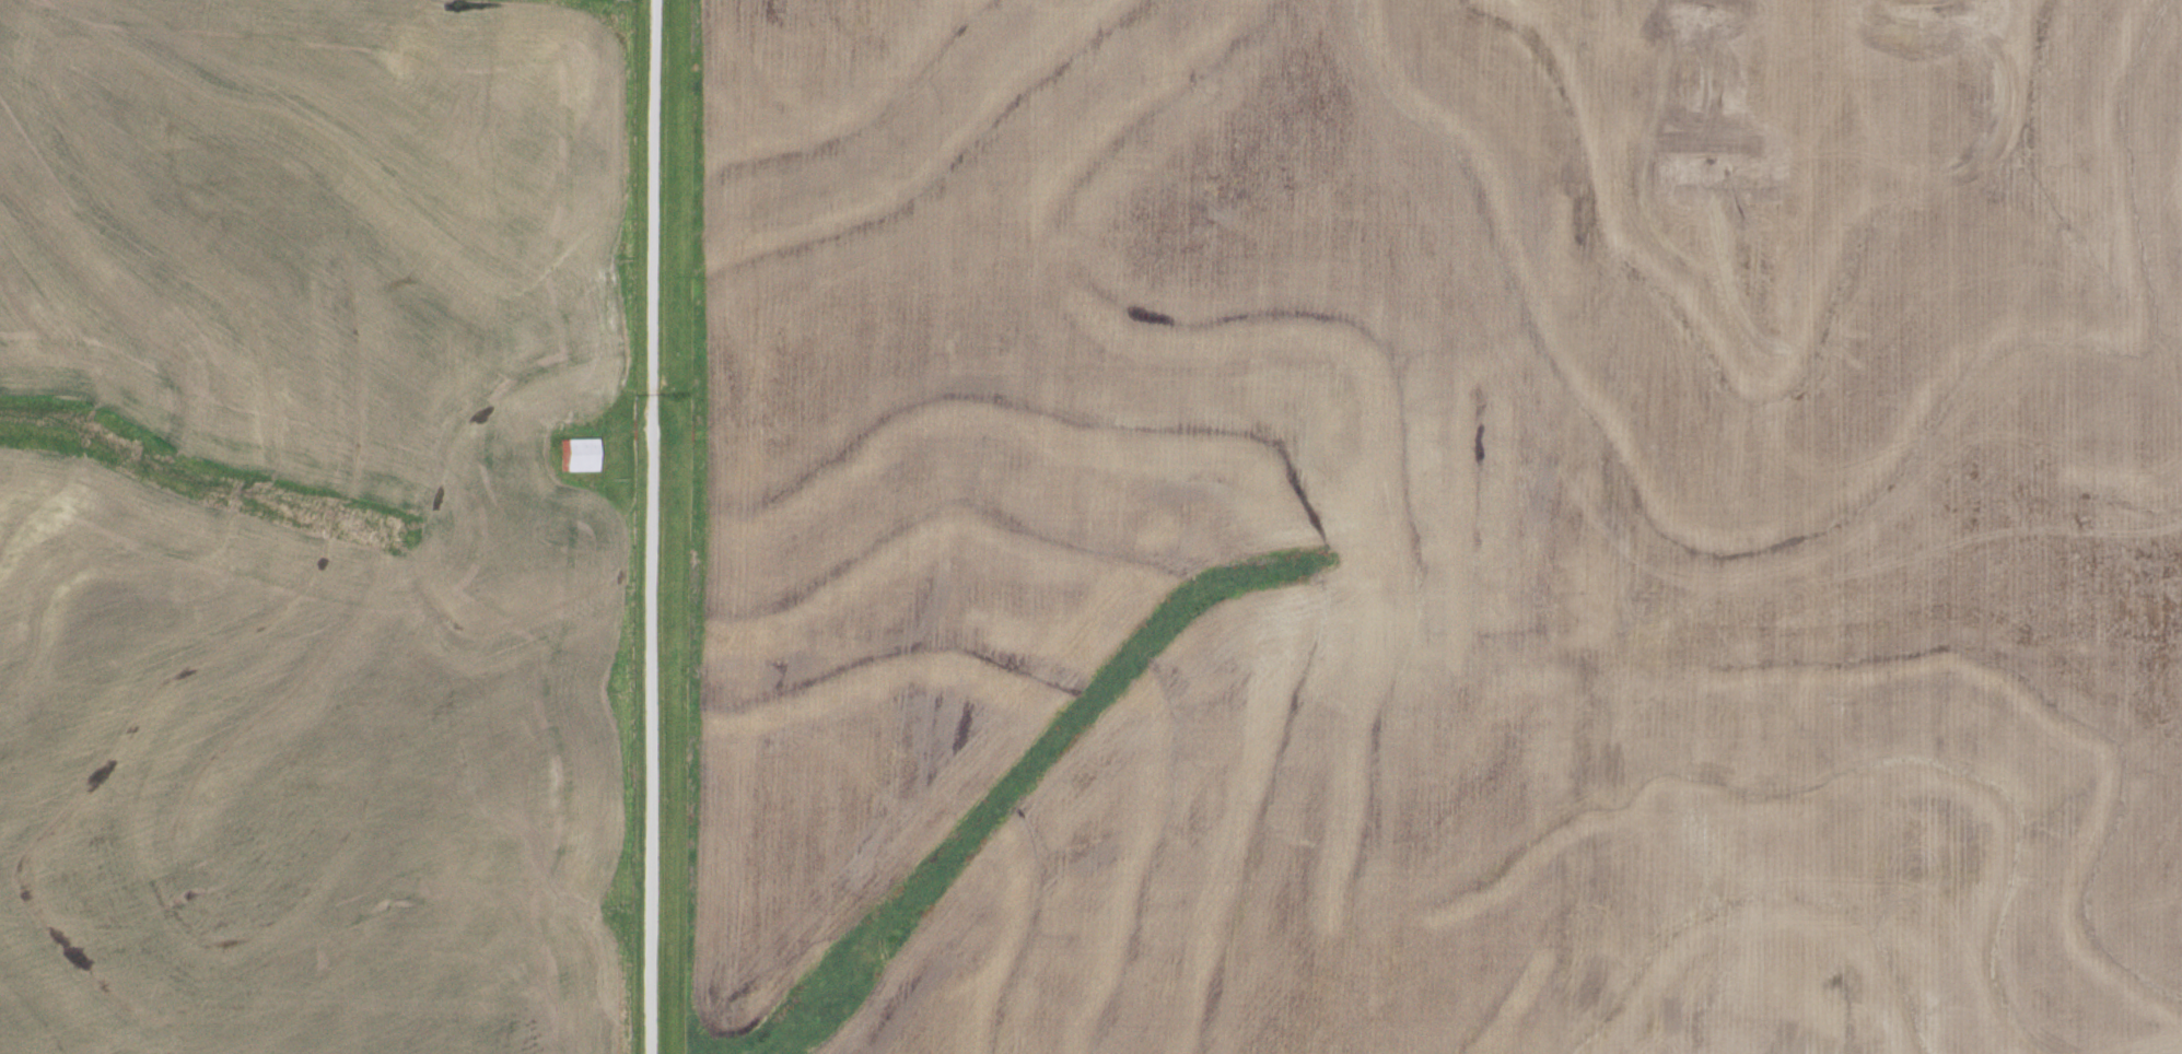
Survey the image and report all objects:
building: (574, 456)
road: (644, 526)

